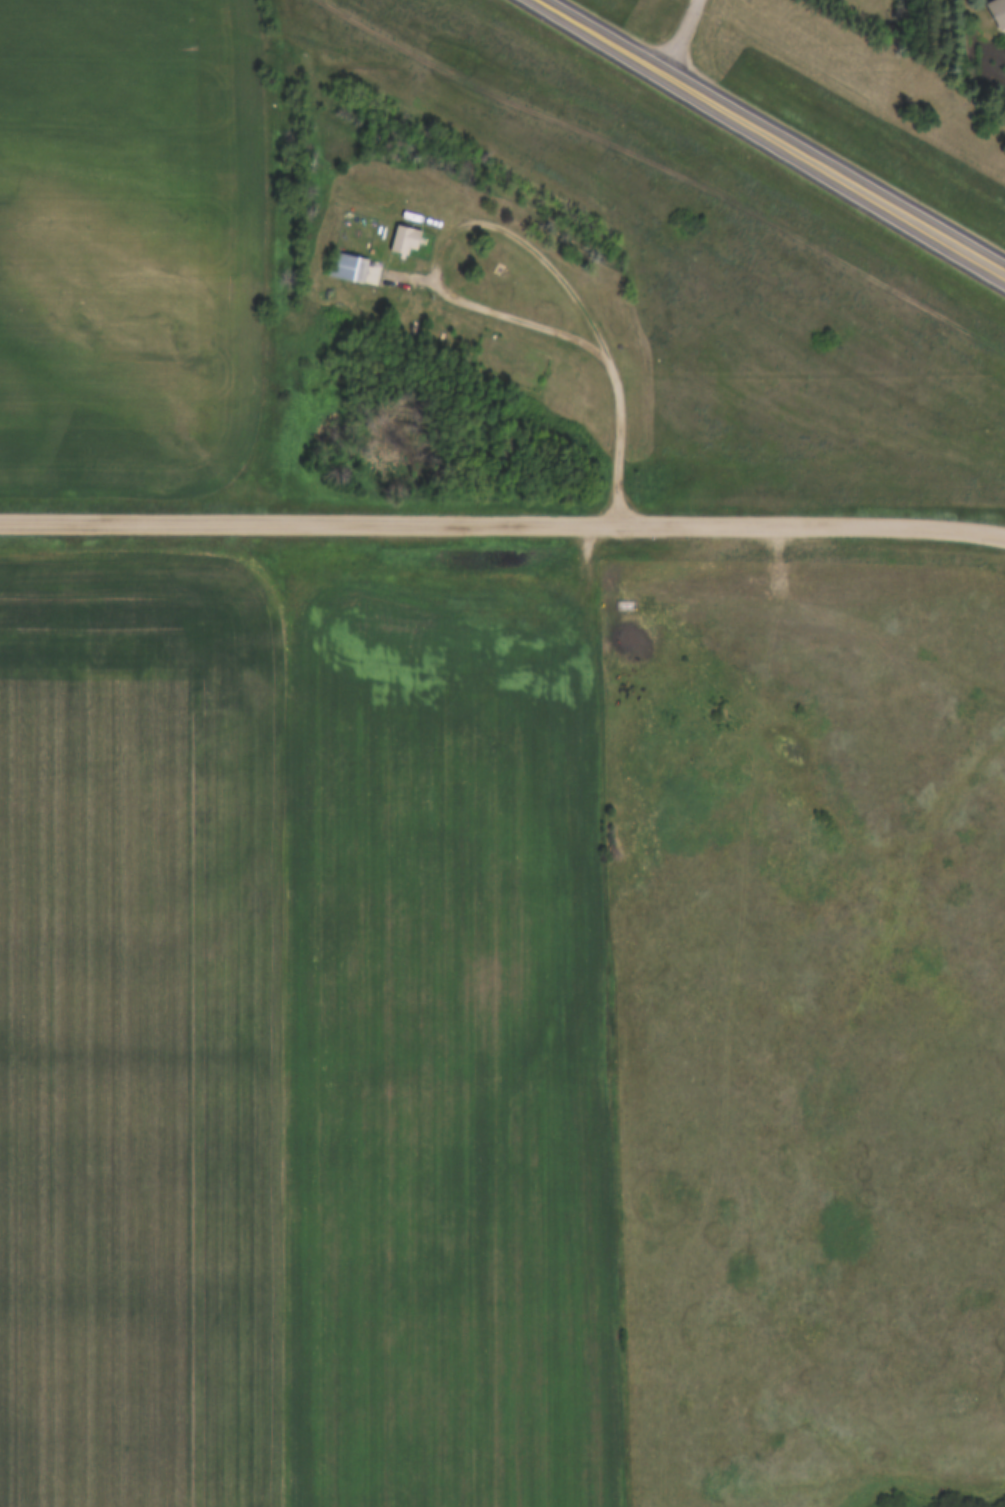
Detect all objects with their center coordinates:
building: (997, 12)
road: (682, 35)
road: (774, 133)
building: (405, 239)
building: (353, 268)
road: (465, 298)
road: (502, 519)

